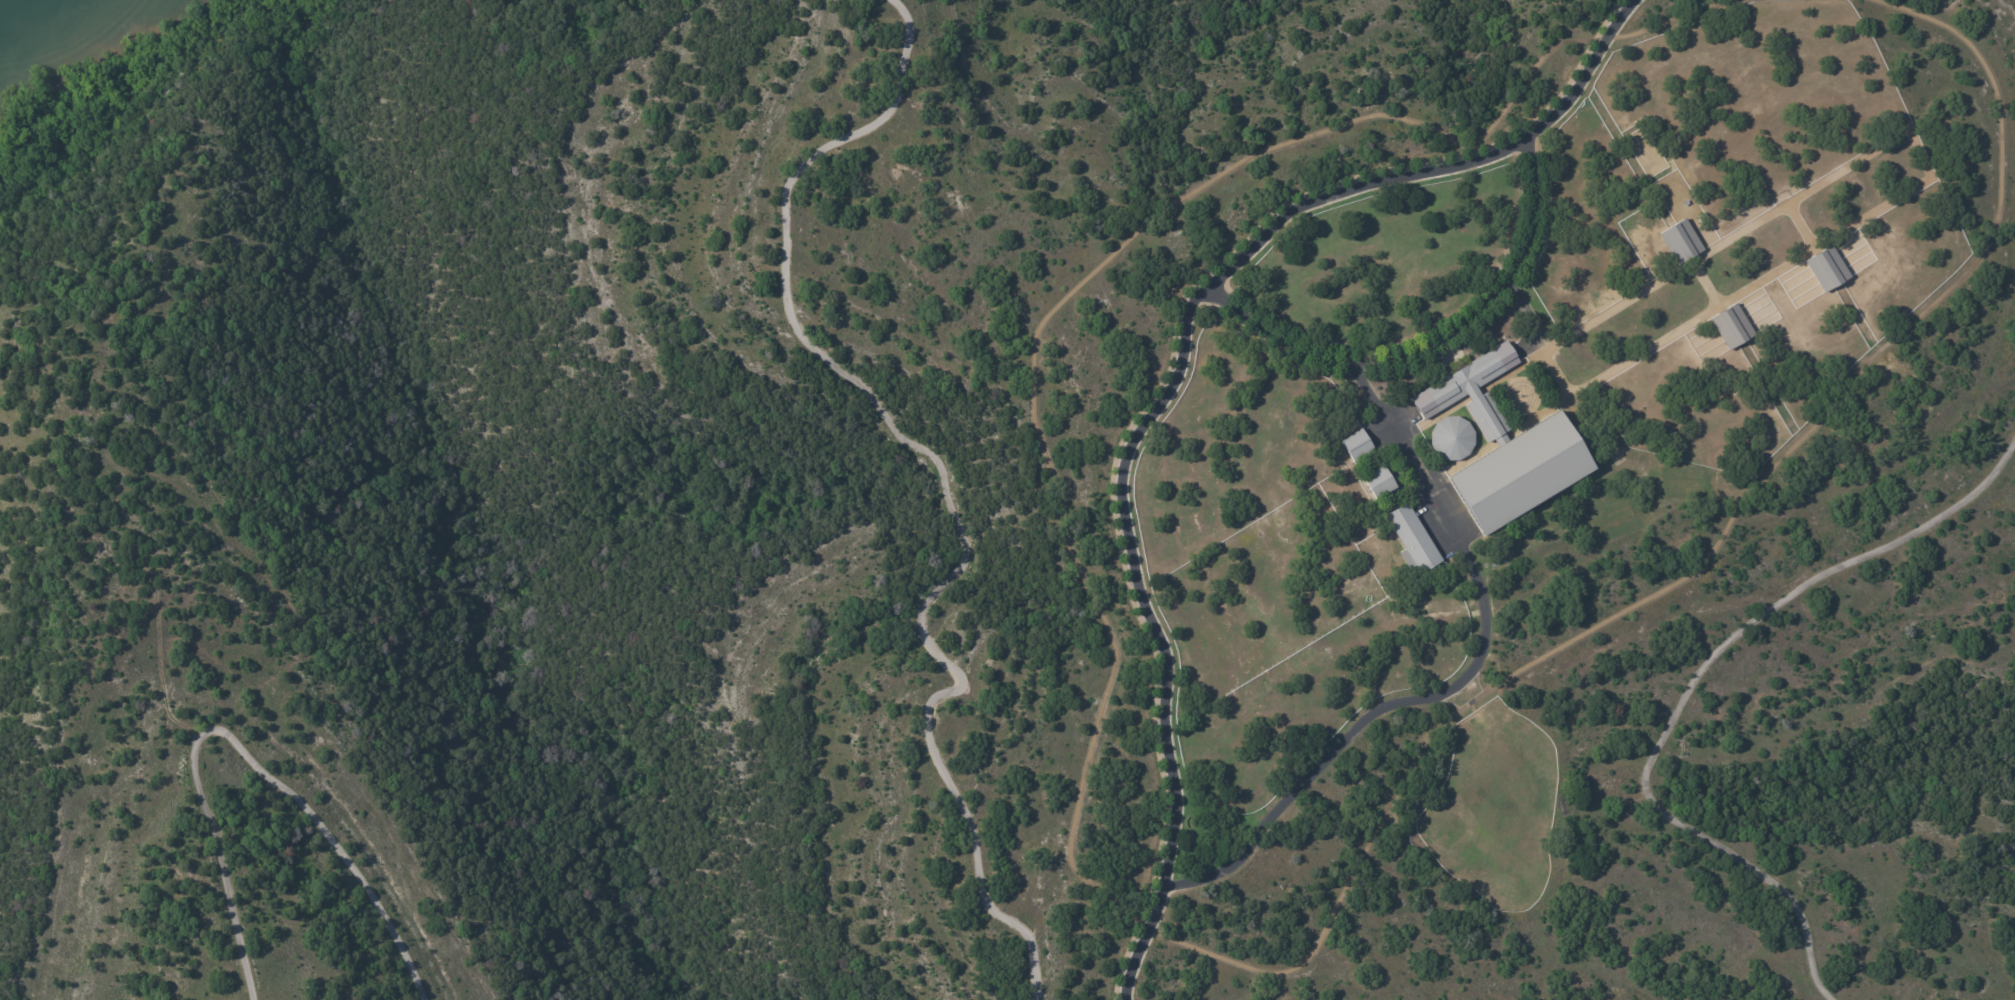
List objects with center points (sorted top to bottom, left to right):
building: (1679, 241)
road: (1693, 266)
building: (1839, 305)
building: (1732, 327)
road: (1436, 346)
building: (1783, 352)
road: (1175, 385)
building: (1453, 440)
building: (1358, 447)
building: (1500, 455)
building: (1380, 484)
building: (1413, 539)
road: (1448, 685)
road: (1693, 686)

